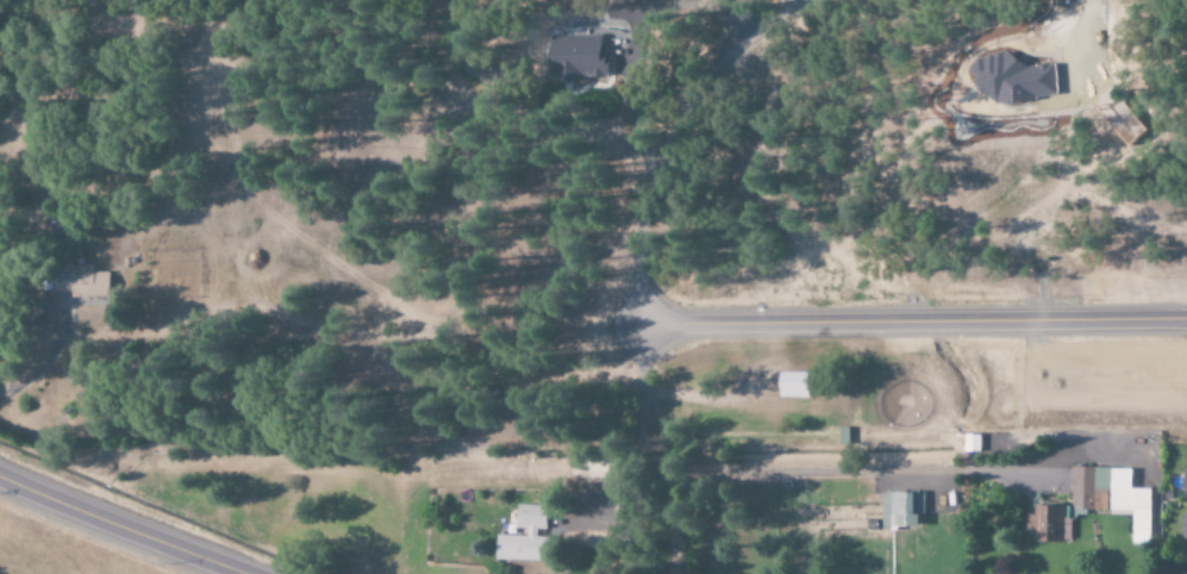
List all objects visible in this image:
building: (573, 57)
road: (912, 319)
building: (791, 385)
building: (1186, 469)
building: (1111, 497)
building: (900, 510)
building: (1044, 524)
road: (124, 525)
building: (1185, 531)
building: (523, 537)
building: (1182, 573)

